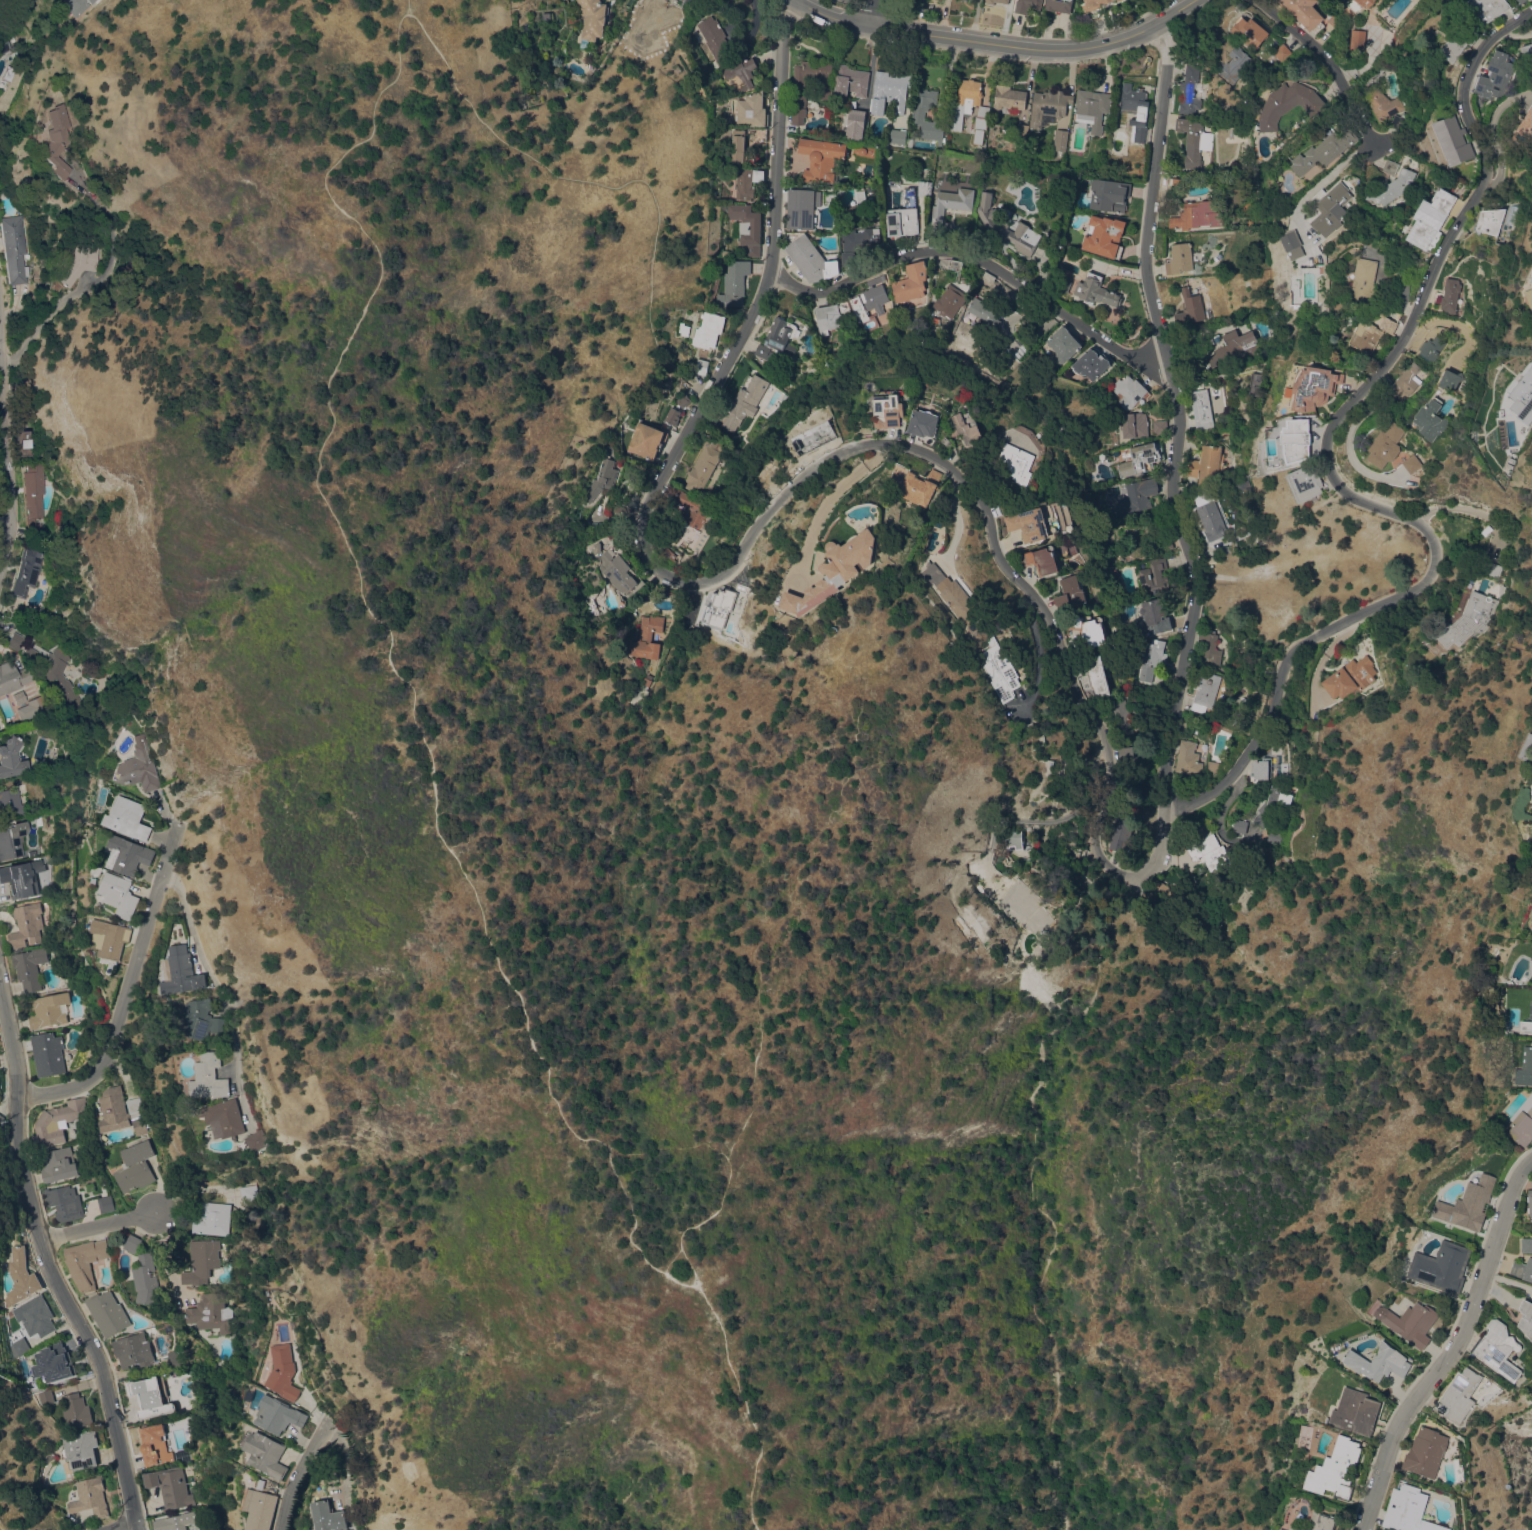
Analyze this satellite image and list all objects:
building: (685, 0)
building: (689, 0)
building: (1519, 1)
building: (1522, 1)
road: (2, 2)
building: (1003, 2)
building: (1366, 3)
building: (1095, 4)
building: (1027, 5)
building: (1059, 5)
building: (76, 6)
road: (407, 6)
building: (1488, 8)
building: (1303, 12)
road: (866, 13)
road: (1189, 13)
building: (1336, 19)
building: (592, 20)
building: (1245, 31)
road: (1142, 37)
building: (716, 40)
road: (949, 40)
building: (1357, 40)
building: (1456, 43)
building: (4, 45)
building: (1198, 49)
building: (1527, 50)
building: (1280, 52)
road: (1170, 62)
road: (1319, 63)
building: (1236, 64)
building: (742, 71)
building: (815, 76)
building: (1495, 76)
building: (851, 81)
building: (890, 91)
building: (1189, 91)
building: (1009, 99)
building: (965, 102)
building: (1287, 103)
building: (1381, 104)
building: (1048, 106)
building: (798, 108)
building: (1092, 108)
building: (752, 110)
building: (731, 111)
building: (1136, 111)
building: (917, 115)
building: (1398, 121)
building: (981, 123)
building: (856, 124)
building: (1524, 129)
building: (1020, 130)
building: (760, 134)
road: (1492, 135)
building: (896, 136)
building: (57, 138)
building: (1060, 140)
building: (1452, 141)
building: (1194, 142)
road: (781, 145)
building: (741, 148)
building: (1324, 150)
building: (865, 153)
building: (799, 158)
building: (823, 159)
building: (1390, 166)
building: (747, 182)
building: (1174, 183)
building: (1391, 187)
building: (925, 188)
building: (860, 194)
building: (1108, 194)
building: (950, 199)
building: (1330, 207)
building: (802, 208)
building: (1198, 215)
building: (904, 216)
building: (1430, 220)
building: (1490, 221)
building: (1004, 226)
building: (747, 227)
building: (1103, 236)
building: (1290, 239)
building: (860, 240)
building: (15, 248)
building: (1531, 248)
building: (724, 252)
building: (848, 258)
building: (1180, 258)
building: (810, 259)
building: (82, 260)
road: (967, 263)
building: (955, 265)
building: (1317, 278)
building: (1366, 281)
building: (911, 282)
building: (734, 283)
building: (1062, 284)
building: (1095, 290)
building: (1448, 295)
building: (1529, 297)
building: (951, 299)
building: (869, 305)
building: (1190, 308)
building: (985, 312)
building: (828, 318)
road: (1447, 323)
building: (1388, 325)
building: (683, 329)
building: (708, 330)
building: (781, 335)
building: (1364, 338)
building: (1063, 344)
building: (1233, 348)
building: (1431, 348)
building: (763, 351)
building: (1091, 363)
building: (700, 366)
building: (1406, 380)
building: (1450, 380)
building: (1255, 383)
building: (1314, 387)
building: (1130, 391)
building: (1520, 392)
building: (683, 400)
building: (745, 402)
building: (888, 410)
building: (1201, 410)
building: (672, 416)
building: (1431, 419)
building: (966, 422)
building: (923, 423)
building: (1134, 425)
building: (1159, 426)
road: (684, 433)
building: (1296, 439)
building: (646, 440)
road: (1348, 442)
building: (23, 443)
building: (1385, 445)
road: (1174, 453)
building: (1141, 459)
building: (1512, 460)
building: (1017, 462)
building: (705, 463)
building: (1412, 463)
building: (1206, 465)
road: (1327, 466)
building: (1509, 466)
road: (6, 469)
building: (601, 481)
building: (1305, 482)
building: (1241, 486)
building: (919, 487)
road: (835, 493)
building: (36, 497)
building: (1134, 498)
building: (664, 501)
building: (620, 508)
road: (1469, 510)
road: (959, 513)
building: (689, 515)
building: (1210, 520)
building: (1032, 523)
road: (339, 525)
building: (1164, 544)
building: (597, 548)
building: (666, 555)
road: (997, 555)
building: (1041, 560)
building: (1490, 568)
building: (835, 569)
building: (1279, 569)
building: (28, 572)
building: (617, 572)
building: (1153, 578)
building: (1070, 592)
building: (952, 594)
building: (720, 607)
building: (1474, 615)
building: (1154, 617)
building: (1278, 622)
building: (1087, 630)
building: (646, 637)
building: (1443, 640)
building: (16, 641)
building: (1212, 649)
building: (1150, 659)
road: (1325, 659)
building: (1000, 671)
building: (56, 675)
building: (1096, 676)
building: (13, 677)
building: (1350, 677)
building: (644, 682)
building: (1205, 693)
building: (19, 697)
building: (32, 708)
building: (1122, 716)
building: (1231, 721)
building: (1221, 728)
building: (1526, 747)
building: (1126, 754)
building: (12, 758)
building: (1188, 758)
building: (138, 766)
building: (1213, 768)
building: (1261, 768)
building: (1284, 770)
building: (11, 803)
building: (1275, 803)
building: (128, 817)
road: (1037, 821)
building: (1241, 826)
building: (1122, 830)
building: (1274, 836)
building: (11, 838)
building: (1014, 840)
building: (1209, 852)
building: (33, 853)
building: (129, 855)
building: (99, 871)
building: (20, 880)
building: (1018, 886)
building: (980, 887)
building: (43, 892)
building: (120, 895)
building: (27, 926)
building: (111, 938)
building: (29, 967)
building: (183, 971)
road: (758, 972)
road: (128, 991)
road: (218, 992)
road: (0, 994)
building: (49, 1010)
building: (201, 1020)
building: (1527, 1021)
building: (47, 1054)
building: (1525, 1068)
building: (209, 1077)
building: (120, 1112)
building: (1, 1118)
building: (224, 1118)
building: (57, 1122)
building: (1522, 1123)
building: (257, 1140)
road: (669, 1147)
building: (58, 1165)
building: (135, 1167)
building: (247, 1193)
building: (1530, 1202)
building: (64, 1203)
building: (105, 1204)
building: (1470, 1204)
building: (212, 1219)
road: (100, 1228)
building: (133, 1244)
building: (1526, 1245)
road: (670, 1259)
building: (201, 1261)
building: (85, 1262)
road: (49, 1264)
road: (692, 1266)
building: (1441, 1267)
building: (1523, 1269)
building: (20, 1277)
building: (145, 1280)
building: (210, 1312)
building: (107, 1313)
building: (35, 1316)
building: (1526, 1317)
building: (1410, 1322)
building: (18, 1347)
road: (1452, 1347)
building: (1498, 1349)
building: (134, 1350)
building: (175, 1360)
building: (53, 1362)
building: (1379, 1362)
building: (282, 1372)
building: (1466, 1394)
building: (45, 1397)
building: (150, 1399)
building: (76, 1411)
building: (1355, 1411)
building: (277, 1415)
building: (154, 1444)
building: (80, 1448)
road: (1049, 1451)
building: (1426, 1452)
building: (267, 1454)
building: (1336, 1469)
road: (303, 1472)
building: (170, 1486)
building: (91, 1497)
building: (261, 1504)
building: (1408, 1510)
building: (328, 1516)
building: (1322, 1521)
building: (171, 1523)
building: (1296, 1528)
road: (133, 1529)
building: (1281, 1529)

